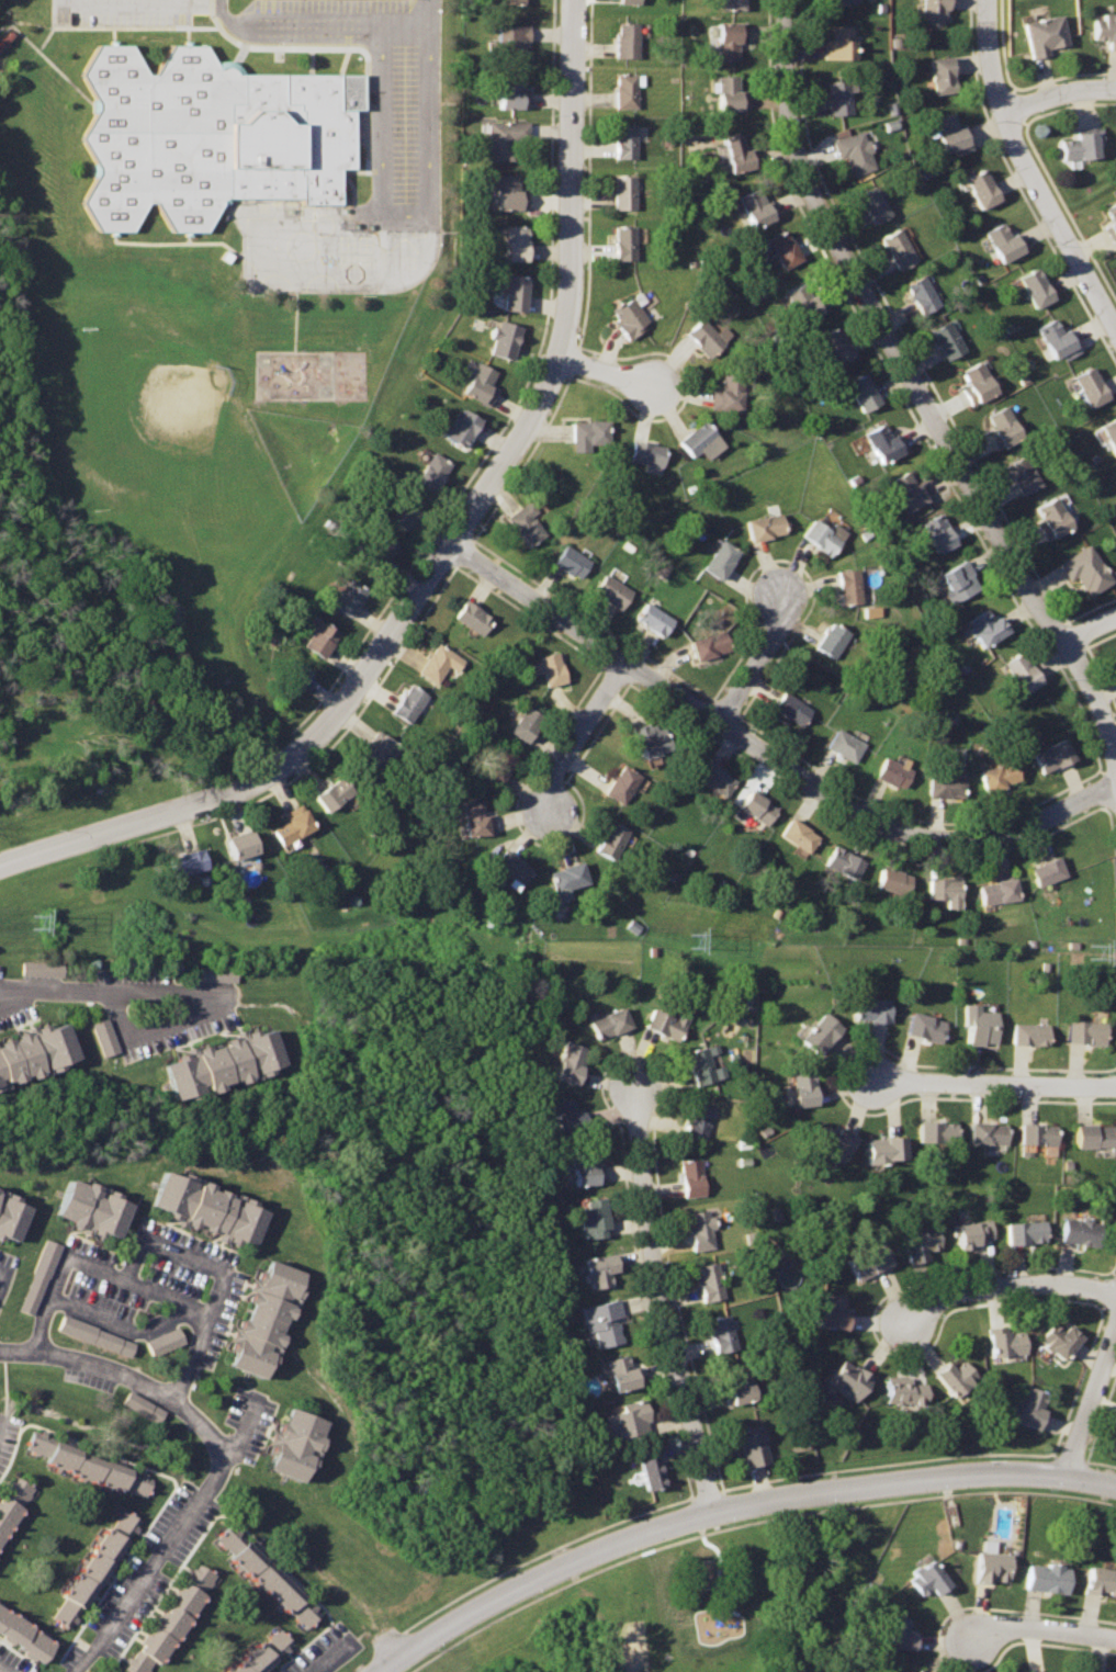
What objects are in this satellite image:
building: (628, 0)
building: (844, 1)
building: (509, 2)
road: (137, 3)
building: (733, 4)
building: (935, 11)
parking lot: (121, 12)
road: (331, 26)
building: (1106, 27)
building: (1045, 34)
building: (730, 38)
building: (511, 39)
building: (625, 41)
building: (841, 43)
building: (944, 76)
building: (627, 89)
parking lot: (383, 90)
building: (512, 92)
road: (1058, 92)
building: (730, 94)
building: (838, 97)
building: (949, 134)
building: (506, 138)
building: (212, 142)
building: (624, 142)
building: (1083, 144)
building: (855, 151)
building: (737, 154)
road: (1029, 169)
building: (982, 188)
building: (511, 192)
building: (624, 192)
building: (873, 203)
building: (756, 206)
road: (406, 214)
building: (1112, 219)
building: (518, 241)
building: (1004, 241)
building: (625, 242)
building: (785, 247)
building: (900, 247)
building: (1037, 285)
building: (514, 290)
building: (923, 293)
building: (807, 302)
building: (631, 314)
building: (708, 337)
building: (504, 339)
building: (947, 339)
building: (1058, 339)
building: (837, 346)
road: (608, 371)
building: (979, 383)
building: (481, 384)
building: (1092, 386)
road: (916, 388)
building: (730, 392)
building: (864, 393)
building: (1003, 427)
building: (461, 428)
building: (1111, 432)
building: (589, 433)
building: (698, 438)
building: (883, 443)
building: (647, 453)
building: (431, 472)
building: (1023, 474)
building: (908, 490)
building: (406, 511)
building: (1052, 519)
building: (525, 523)
building: (766, 528)
building: (939, 534)
building: (822, 538)
road: (448, 544)
building: (377, 551)
building: (722, 558)
building: (572, 562)
building: (1086, 569)
building: (961, 579)
building: (848, 585)
building: (613, 590)
building: (348, 596)
building: (472, 618)
building: (655, 618)
road: (1090, 626)
building: (989, 628)
building: (319, 636)
building: (832, 639)
building: (710, 642)
road: (757, 657)
building: (438, 663)
building: (550, 669)
building: (1023, 671)
building: (292, 678)
building: (407, 703)
building: (791, 708)
building: (526, 724)
road: (578, 734)
building: (651, 739)
building: (844, 745)
building: (376, 752)
road: (768, 754)
building: (1055, 756)
building: (498, 765)
building: (894, 773)
building: (1000, 776)
building: (713, 778)
building: (622, 784)
building: (947, 784)
building: (332, 795)
building: (756, 806)
building: (476, 818)
building: (291, 827)
building: (798, 835)
building: (611, 840)
building: (240, 846)
building: (844, 863)
building: (188, 865)
building: (511, 866)
building: (1050, 872)
building: (567, 879)
building: (894, 881)
building: (946, 891)
building: (999, 891)
building: (43, 969)
building: (216, 974)
road: (15, 994)
road: (108, 994)
building: (873, 1008)
building: (608, 1020)
building: (667, 1020)
building: (980, 1024)
building: (926, 1025)
building: (1086, 1029)
building: (820, 1030)
road: (157, 1031)
building: (1030, 1031)
building: (104, 1037)
building: (36, 1051)
building: (570, 1062)
building: (224, 1063)
building: (701, 1064)
road: (994, 1082)
building: (804, 1085)
building: (566, 1116)
building: (697, 1120)
building: (937, 1130)
building: (988, 1131)
building: (1037, 1132)
building: (1094, 1134)
building: (833, 1139)
building: (887, 1144)
building: (585, 1166)
building: (691, 1177)
building: (0, 1189)
building: (93, 1206)
building: (211, 1208)
building: (12, 1216)
building: (593, 1217)
building: (700, 1228)
building: (1026, 1231)
building: (1080, 1231)
building: (973, 1232)
building: (920, 1242)
park: (418, 1244)
building: (870, 1261)
road: (89, 1263)
building: (599, 1267)
road: (223, 1275)
road: (5, 1276)
building: (41, 1276)
building: (709, 1279)
road: (1007, 1286)
road: (661, 1302)
building: (834, 1310)
building: (267, 1318)
building: (602, 1321)
road: (121, 1324)
building: (722, 1332)
building: (95, 1336)
building: (1061, 1337)
building: (164, 1341)
building: (1007, 1341)
building: (620, 1371)
building: (957, 1375)
building: (849, 1378)
building: (739, 1385)
building: (905, 1392)
road: (1091, 1397)
building: (144, 1406)
building: (1032, 1408)
building: (628, 1419)
road: (2, 1428)
road: (246, 1430)
building: (296, 1442)
building: (753, 1444)
road: (221, 1458)
building: (89, 1465)
building: (652, 1471)
road: (1091, 1480)
building: (13, 1506)
road: (707, 1514)
building: (993, 1561)
building: (98, 1564)
building: (268, 1575)
building: (931, 1575)
building: (1048, 1575)
building: (1101, 1578)
park: (685, 1584)
building: (171, 1619)
road: (1042, 1628)
building: (899, 1633)
building: (24, 1637)
building: (263, 1652)
road: (329, 1657)
road: (7, 1667)
building: (917, 1671)

